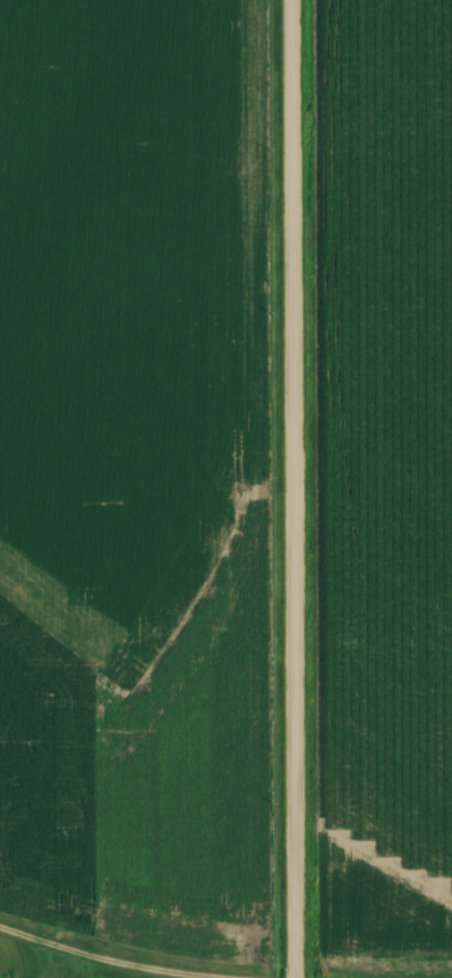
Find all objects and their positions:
road: (291, 488)
road: (86, 960)

